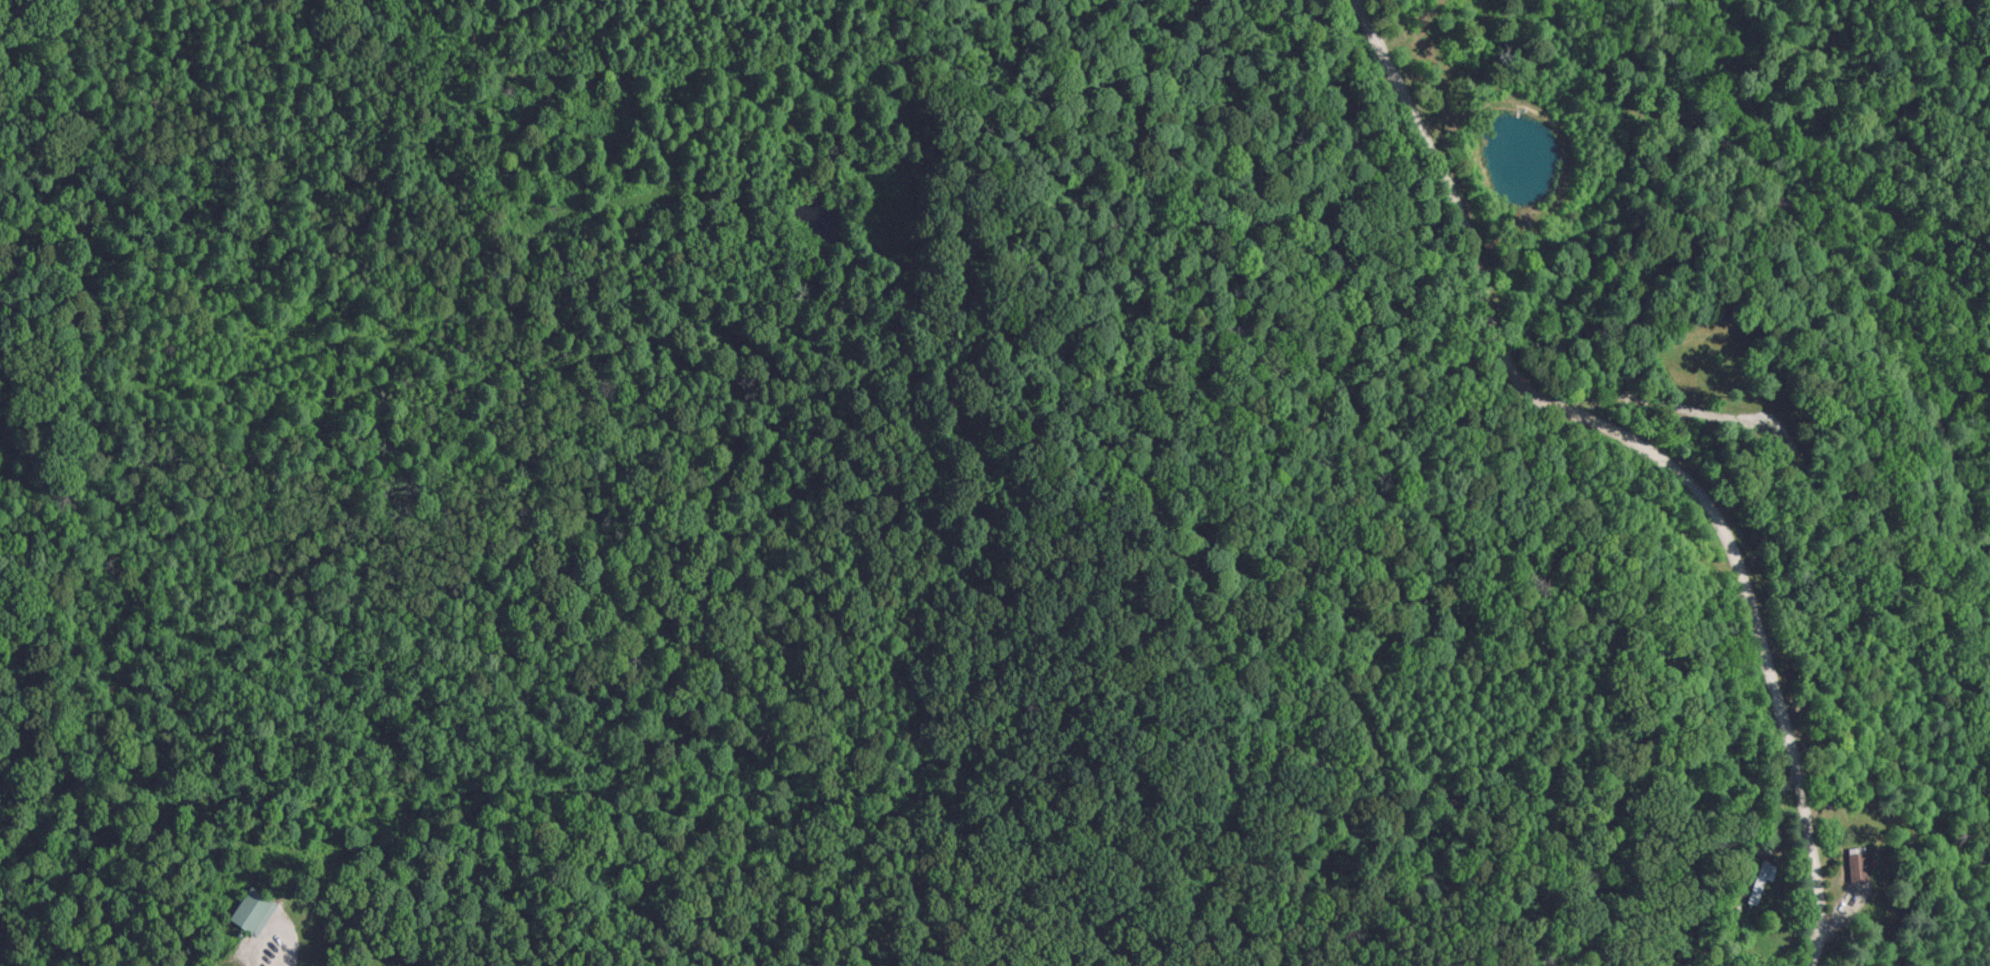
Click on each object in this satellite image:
road: (1642, 449)
building: (1854, 863)
building: (1760, 883)
building: (255, 909)
road: (278, 938)

